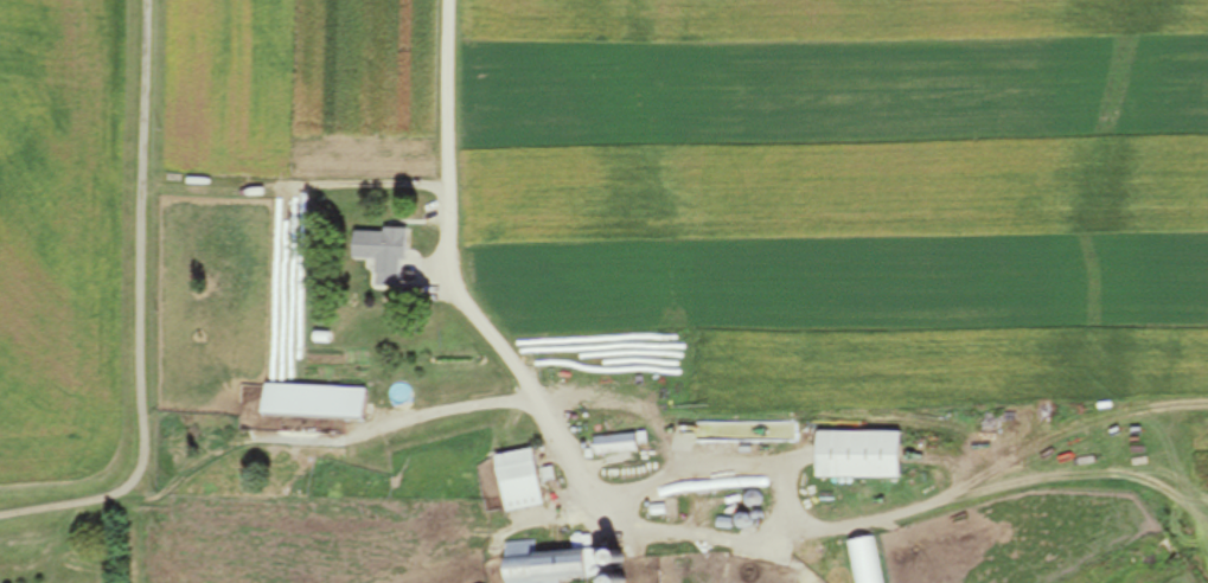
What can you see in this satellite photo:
building: (381, 251)
road: (452, 267)
road: (145, 313)
building: (312, 403)
building: (613, 444)
building: (856, 456)
building: (516, 482)
building: (558, 564)

